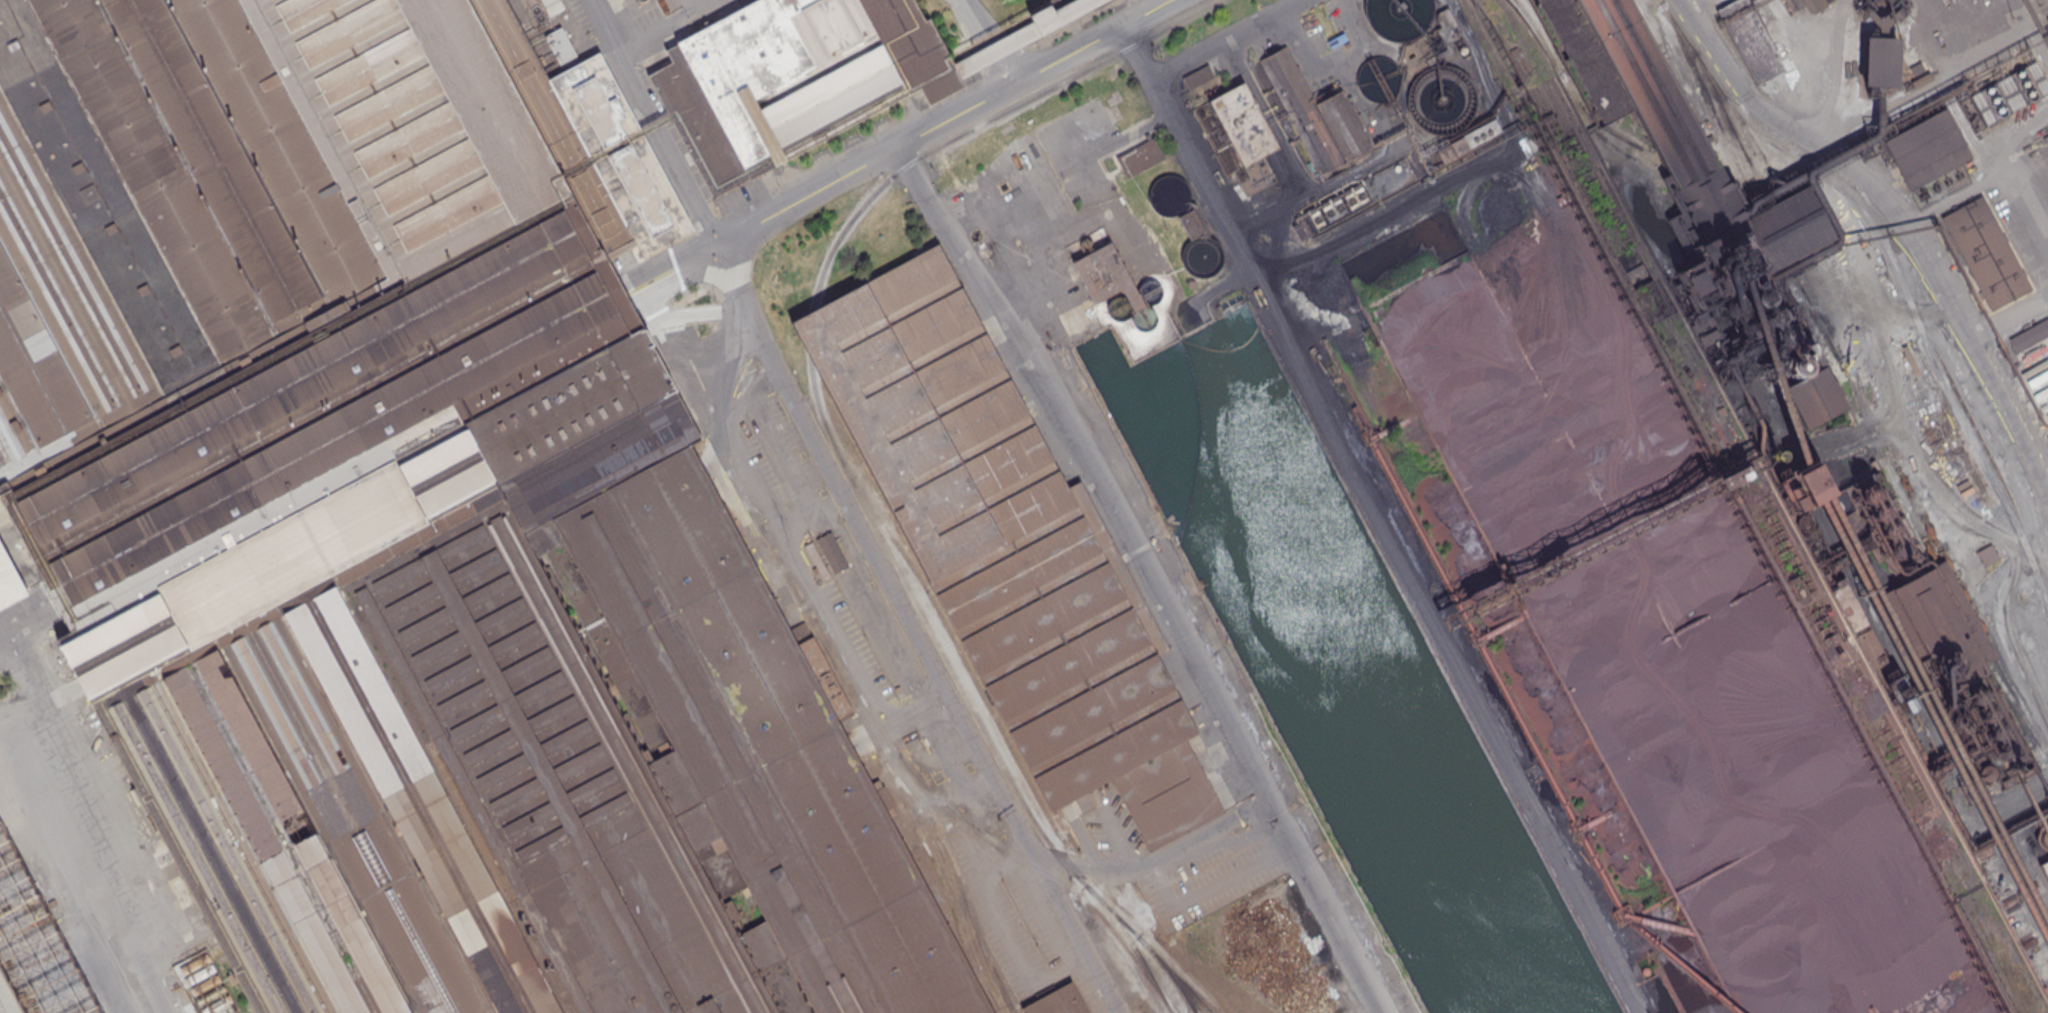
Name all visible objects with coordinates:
building: (617, 0)
building: (1816, 4)
building: (1398, 17)
railway: (1529, 20)
road: (1071, 24)
railway: (1521, 34)
road: (1227, 39)
building: (1748, 39)
road: (987, 43)
building: (559, 44)
building: (1428, 45)
railway: (1483, 47)
building: (998, 48)
building: (1879, 61)
road: (1004, 63)
railway: (1518, 64)
railway: (1532, 67)
building: (1916, 69)
building: (1198, 76)
building: (786, 78)
building: (1377, 78)
building: (1922, 78)
building: (1440, 99)
storage tank: (1440, 99)
building: (1318, 114)
railway: (986, 121)
road: (654, 122)
building: (1239, 136)
road: (878, 137)
building: (1464, 141)
road: (898, 148)
building: (1925, 150)
railway: (1626, 154)
building: (2047, 154)
building: (1142, 158)
road: (1986, 183)
building: (1358, 195)
railway: (1706, 199)
road: (1091, 202)
road: (734, 212)
railway: (1781, 217)
road: (1901, 221)
building: (1190, 223)
building: (1985, 252)
railway: (1782, 266)
building: (1102, 269)
railway: (1823, 269)
railway: (1898, 271)
road: (2008, 315)
railway: (1671, 328)
railway: (814, 335)
railway: (1664, 339)
railway: (1849, 378)
building: (1789, 385)
road: (729, 390)
railway: (721, 392)
road: (2002, 444)
road: (339, 447)
road: (1382, 519)
building: (414, 528)
building: (1006, 543)
building: (832, 552)
building: (1987, 555)
building: (817, 560)
road: (1146, 574)
building: (9, 581)
railway: (35, 584)
railway: (1972, 607)
road: (5, 615)
road: (26, 615)
road: (915, 630)
railway: (1843, 649)
road: (25, 651)
railway: (973, 712)
river: (1362, 726)
railway: (887, 765)
railway: (1027, 777)
railway: (920, 780)
road: (2008, 804)
road: (100, 821)
road: (1119, 836)
road: (1156, 859)
building: (2043, 871)
parking lot: (1210, 876)
railway: (958, 883)
road: (1163, 889)
railway: (1974, 890)
railway: (1967, 912)
railway: (1980, 912)
road: (135, 940)
railway: (2006, 941)
railway: (1133, 944)
road: (1862, 959)
railway: (2005, 970)
railway: (1197, 975)
railway: (1176, 983)
railway: (1209, 989)
building: (1057, 1002)
road: (5, 1003)
railway: (2020, 1010)

